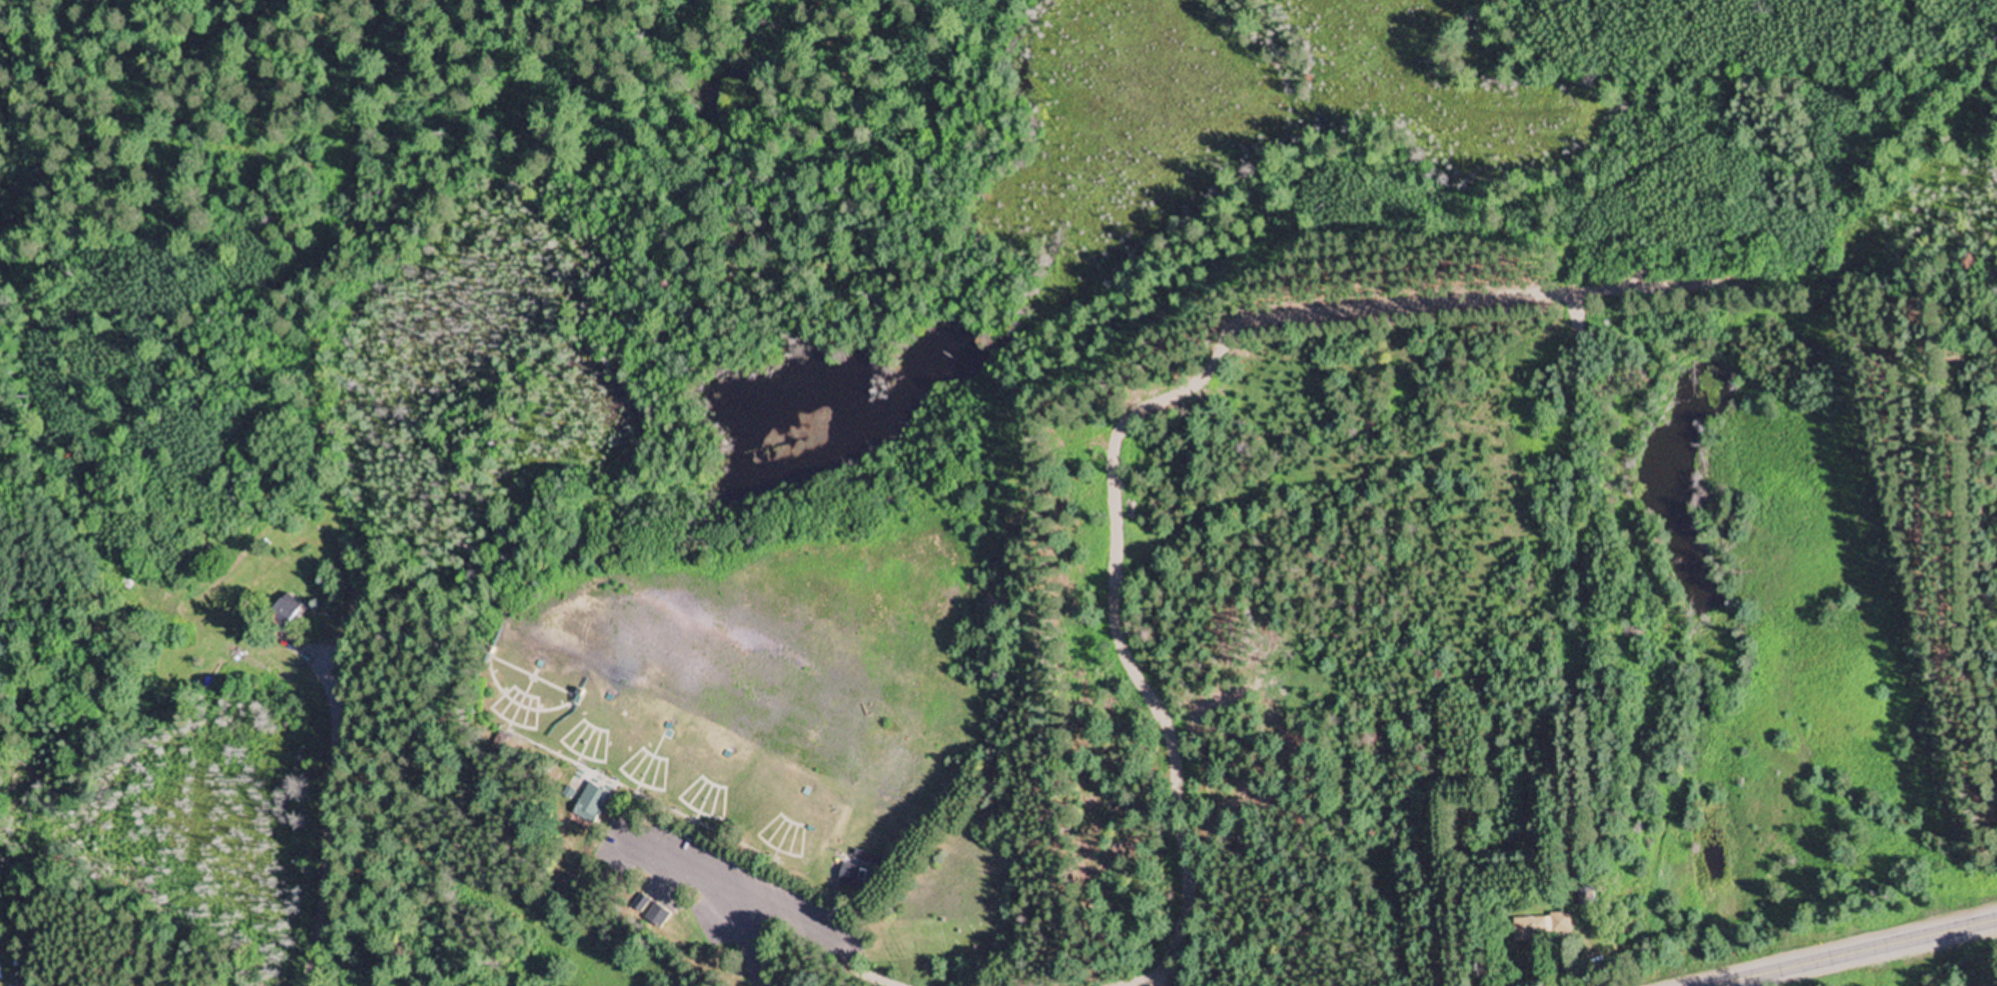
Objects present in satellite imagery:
road: (355, 490)
building: (280, 611)
building: (240, 662)
building: (590, 804)
building: (859, 874)
building: (658, 913)
building: (1541, 929)
road: (1857, 953)

